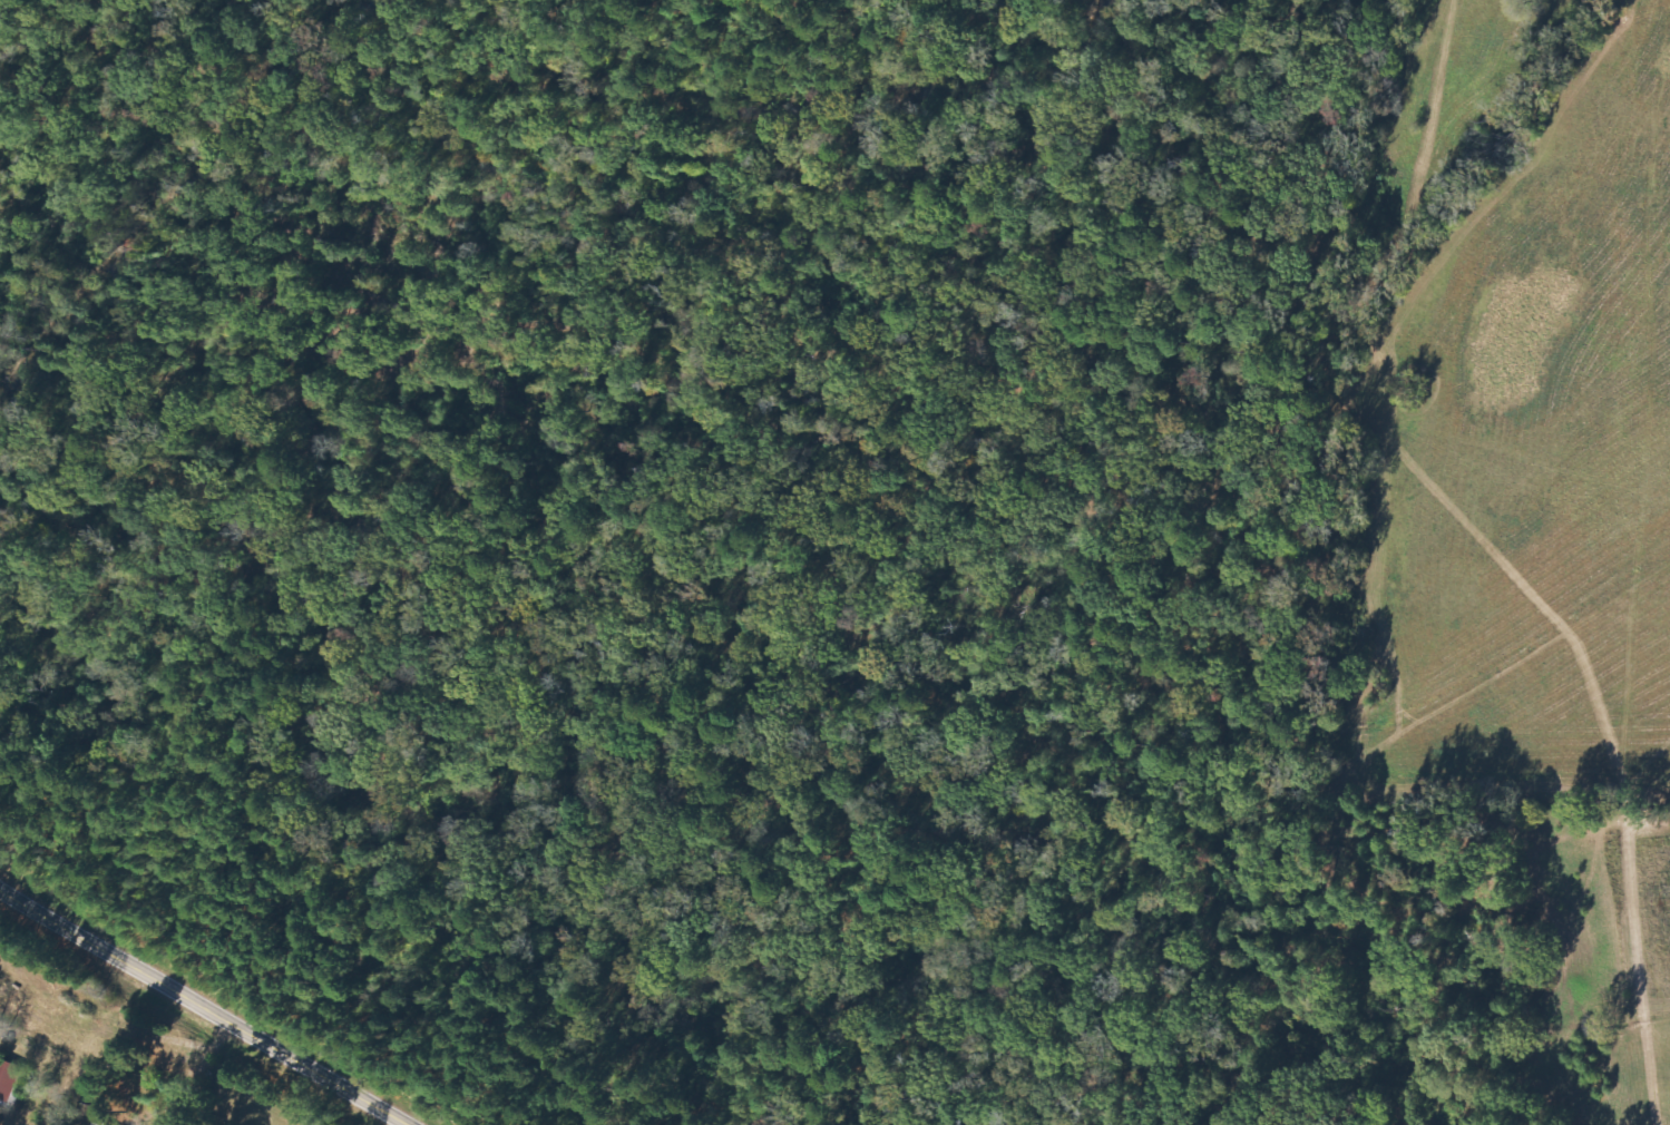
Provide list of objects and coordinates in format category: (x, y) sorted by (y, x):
road: (205, 1010)
building: (9, 1079)
building: (99, 1123)

